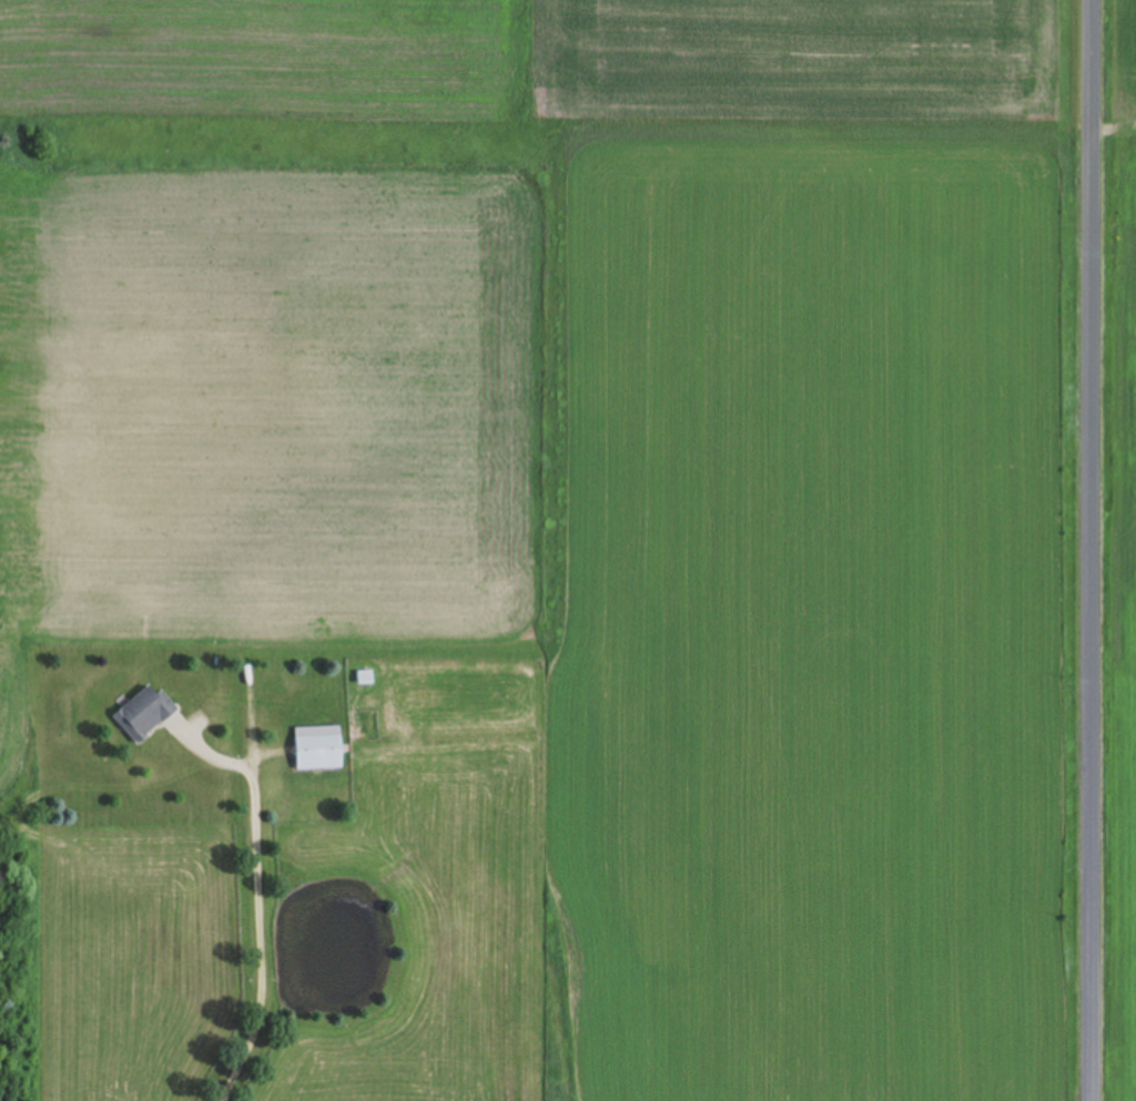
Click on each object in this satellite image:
road: (1096, 550)
building: (146, 713)
building: (319, 748)

